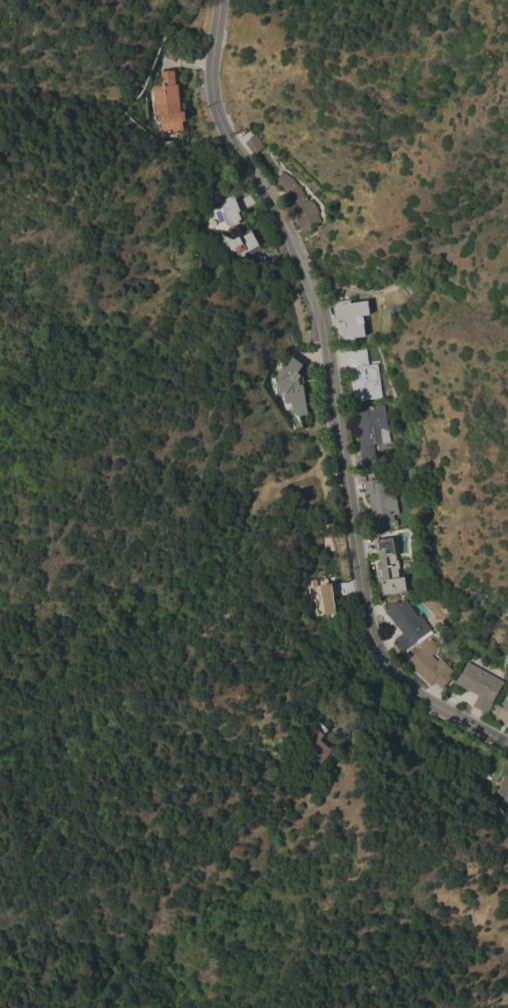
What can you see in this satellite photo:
building: (167, 102)
building: (254, 144)
building: (298, 202)
building: (231, 210)
building: (235, 242)
building: (349, 318)
building: (361, 374)
building: (291, 385)
road: (332, 396)
building: (370, 430)
building: (380, 505)
building: (388, 567)
building: (326, 598)
building: (406, 623)
building: (430, 665)
building: (479, 685)
building: (500, 713)
building: (314, 744)
building: (503, 788)

